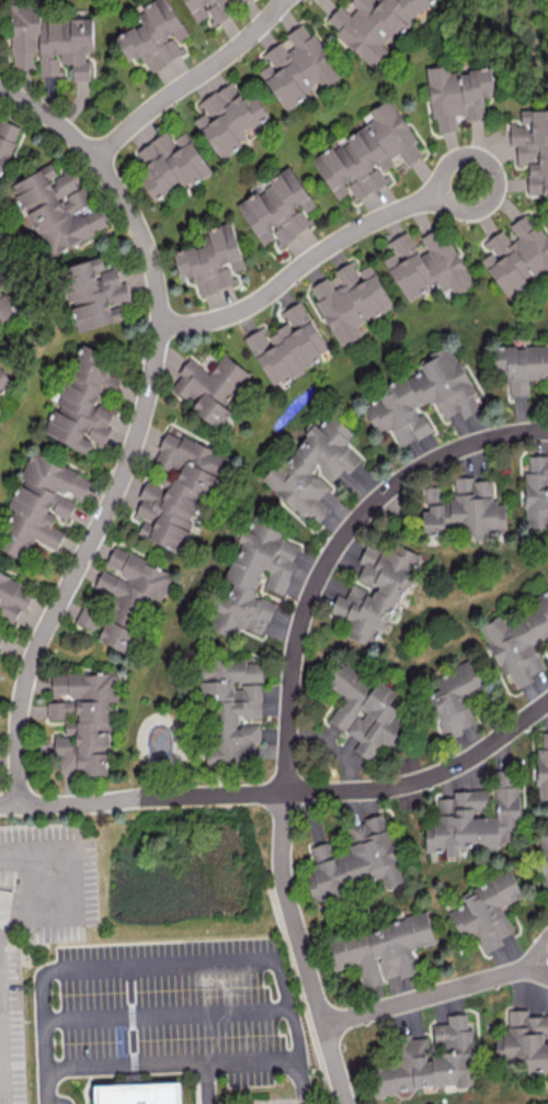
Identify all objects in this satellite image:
building: (237, 1)
building: (206, 9)
building: (374, 24)
building: (153, 35)
building: (50, 42)
building: (297, 67)
road: (186, 78)
building: (457, 94)
building: (228, 117)
building: (5, 139)
building: (532, 147)
building: (367, 153)
building: (170, 164)
building: (56, 207)
building: (277, 207)
road: (311, 252)
building: (517, 257)
building: (212, 259)
building: (425, 263)
building: (3, 274)
building: (94, 292)
building: (350, 300)
building: (4, 306)
building: (287, 345)
building: (521, 365)
building: (2, 381)
building: (209, 386)
building: (423, 396)
building: (83, 402)
road: (137, 424)
building: (312, 464)
building: (176, 489)
building: (536, 492)
building: (41, 504)
building: (465, 509)
building: (316, 512)
building: (253, 578)
building: (375, 592)
building: (124, 594)
building: (12, 597)
building: (1, 635)
building: (518, 641)
road: (287, 679)
building: (455, 697)
building: (231, 708)
building: (366, 711)
building: (82, 719)
building: (543, 775)
road: (142, 792)
building: (473, 821)
building: (356, 860)
road: (66, 892)
building: (487, 910)
parking lot: (37, 921)
building: (381, 948)
road: (304, 949)
road: (162, 964)
road: (436, 993)
road: (165, 1013)
parking lot: (170, 1013)
road: (295, 1029)
road: (43, 1033)
building: (523, 1043)
building: (430, 1060)
road: (171, 1063)
road: (1, 1080)
road: (204, 1083)
building: (140, 1093)
road: (54, 1103)

